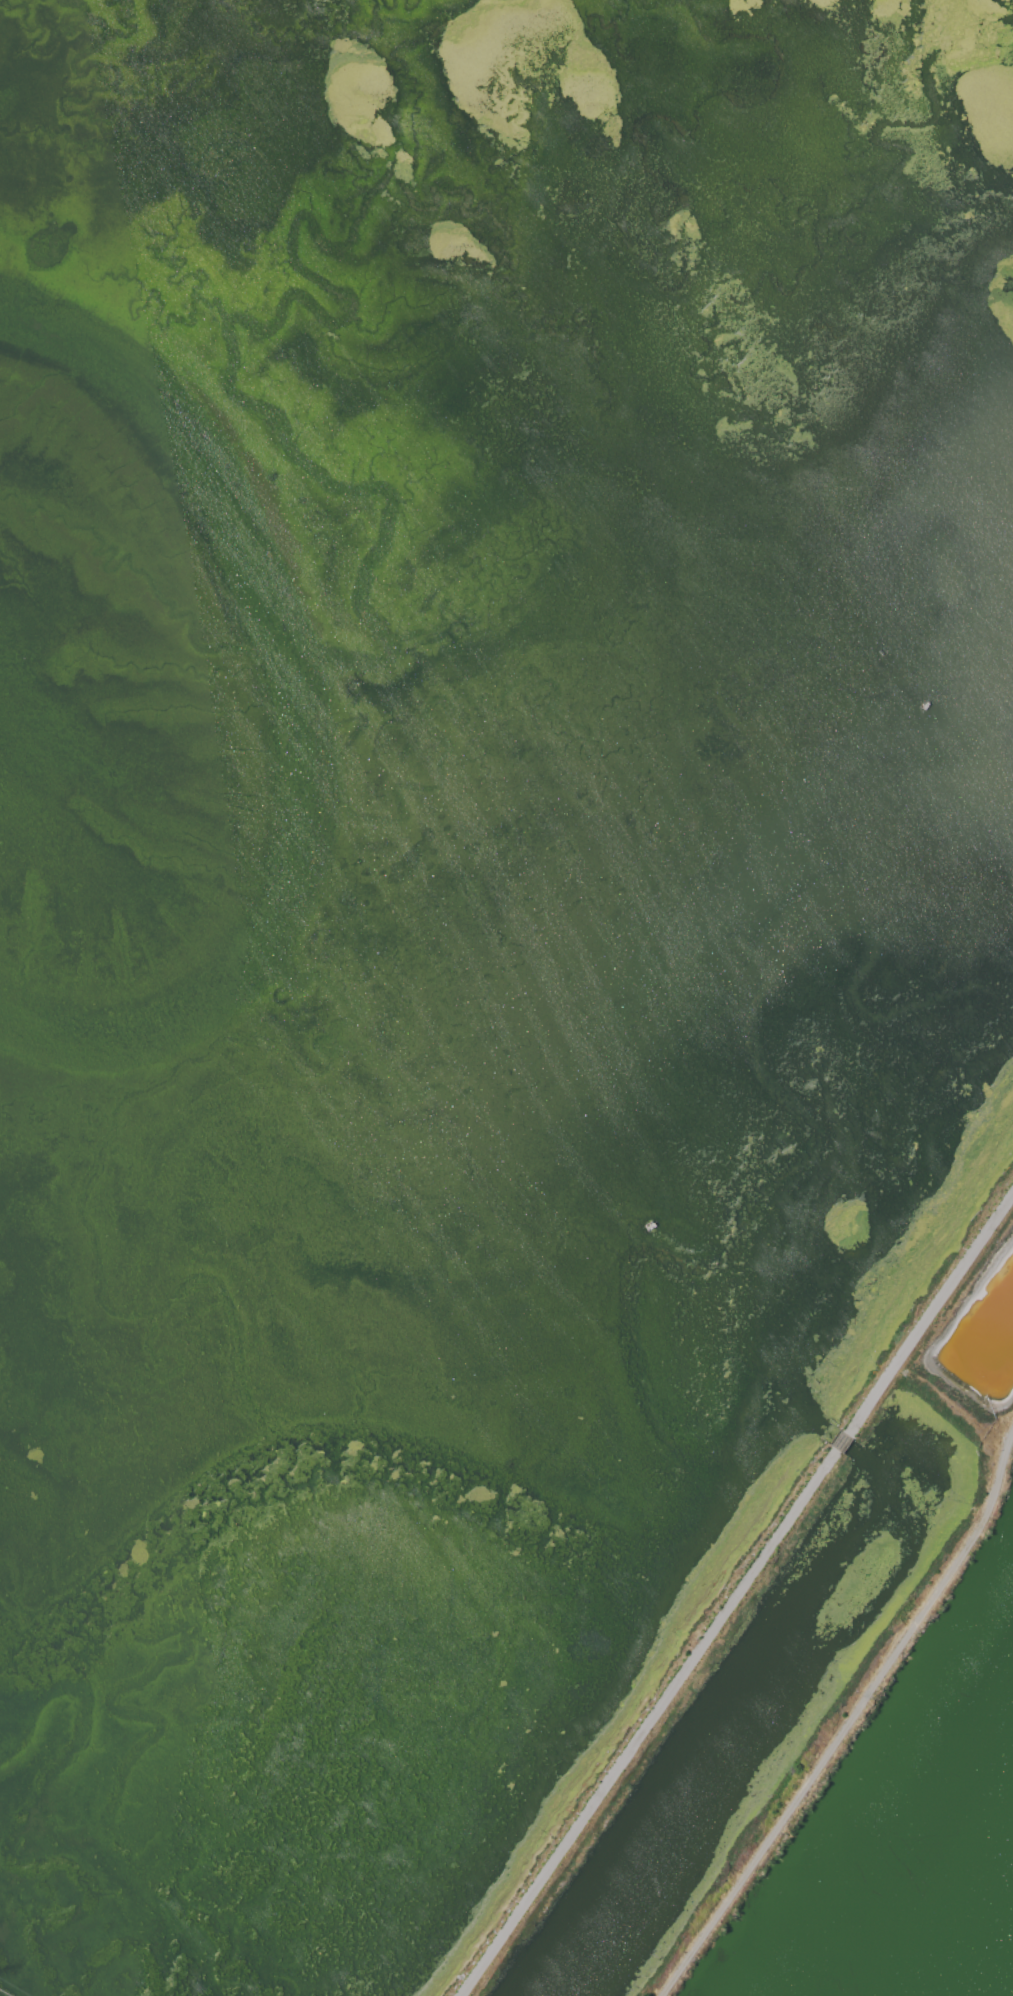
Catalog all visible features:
building: (880, 652)
building: (884, 659)
building: (646, 1228)
road: (738, 1596)
road: (851, 1723)
pier: (4, 1993)

